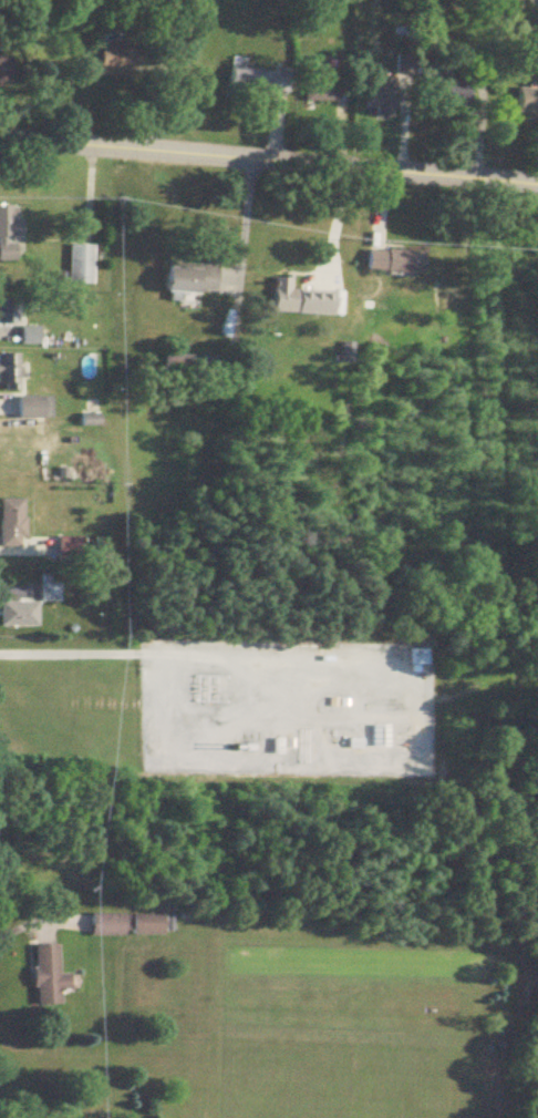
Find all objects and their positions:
building: (108, 62)
building: (3, 71)
building: (256, 76)
building: (314, 82)
building: (376, 95)
building: (452, 95)
building: (524, 103)
road: (269, 160)
road: (242, 226)
building: (8, 234)
building: (390, 263)
building: (79, 265)
building: (185, 280)
building: (294, 300)
building: (7, 311)
building: (27, 336)
building: (7, 373)
building: (30, 408)
building: (10, 523)
building: (48, 593)
building: (17, 615)
road: (227, 647)
building: (414, 657)
building: (375, 736)
building: (123, 924)
building: (43, 975)

